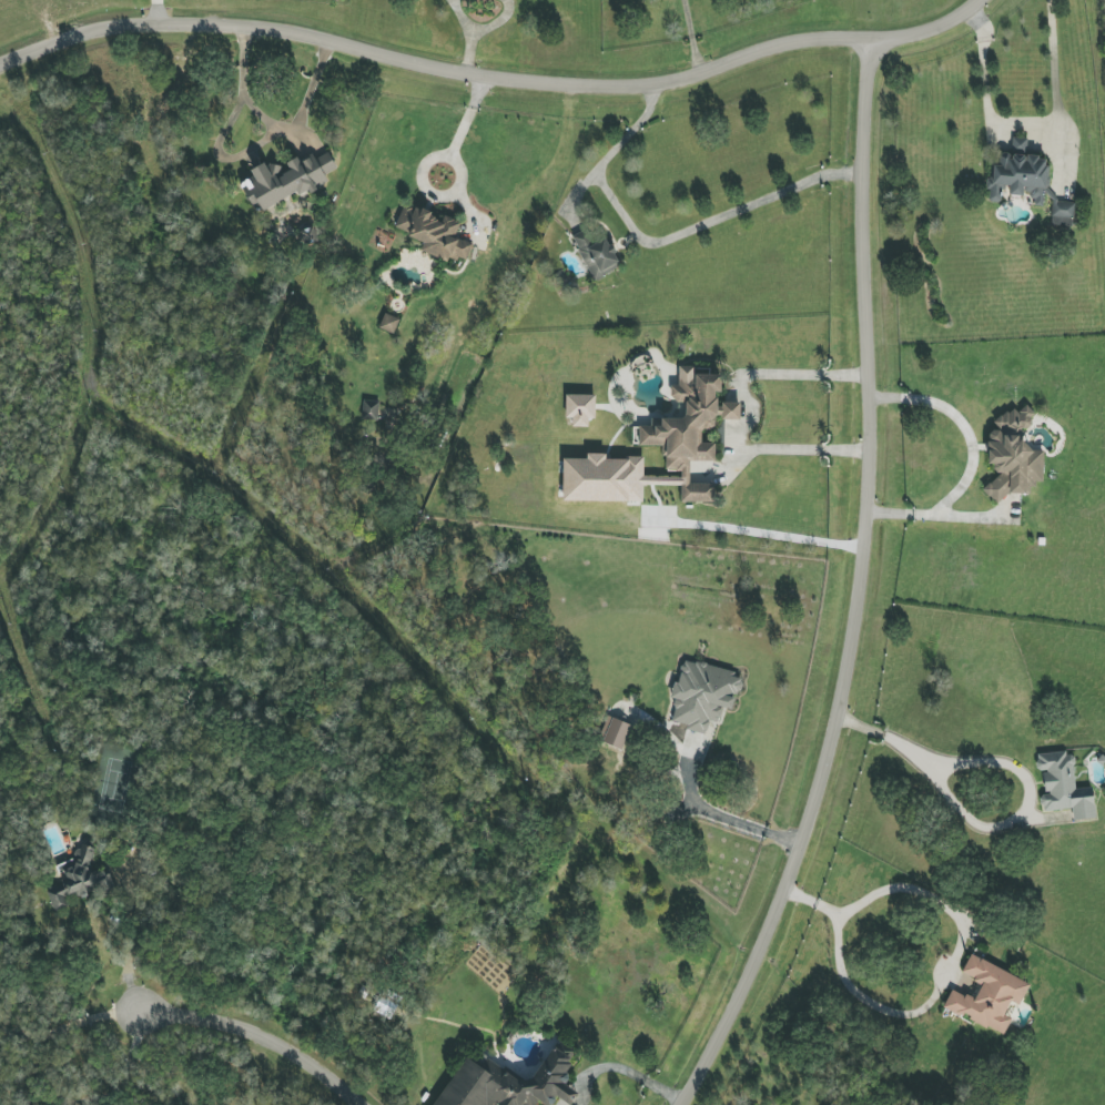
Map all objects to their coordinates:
road: (153, 12)
road: (495, 21)
road: (469, 33)
road: (691, 36)
road: (490, 78)
road: (1023, 125)
road: (273, 126)
road: (458, 126)
road: (612, 149)
building: (1018, 174)
building: (286, 180)
building: (1063, 213)
road: (710, 220)
building: (434, 233)
building: (596, 252)
building: (388, 323)
building: (580, 408)
building: (369, 409)
road: (743, 420)
road: (865, 420)
building: (690, 429)
building: (1013, 456)
road: (972, 457)
building: (604, 479)
road: (761, 531)
building: (702, 695)
building: (614, 732)
road: (913, 752)
building: (1064, 787)
road: (714, 813)
building: (77, 879)
road: (812, 908)
road: (131, 945)
road: (757, 955)
building: (987, 995)
building: (387, 1003)
road: (874, 1003)
road: (69, 1024)
road: (256, 1037)
road: (627, 1069)
building: (510, 1083)
road: (568, 1093)
road: (562, 1102)

